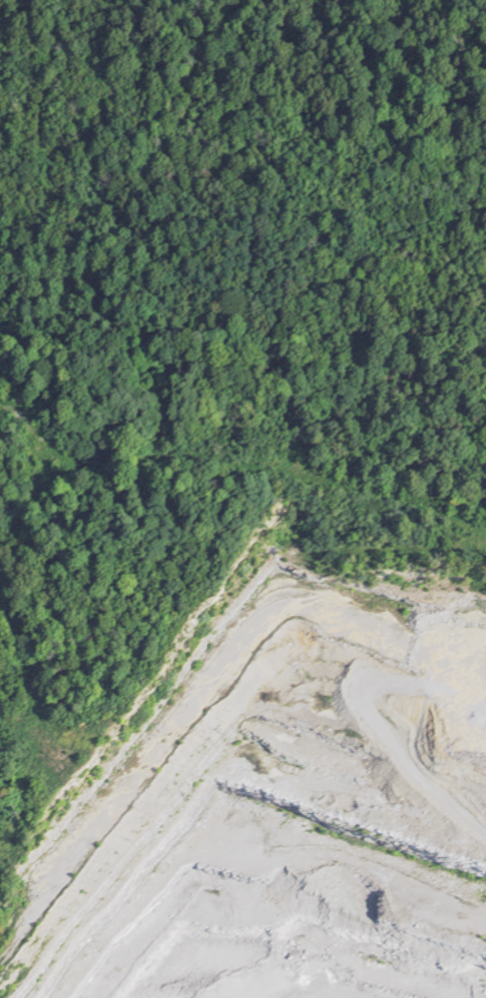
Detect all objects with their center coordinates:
road: (231, 458)
quarry: (286, 803)

